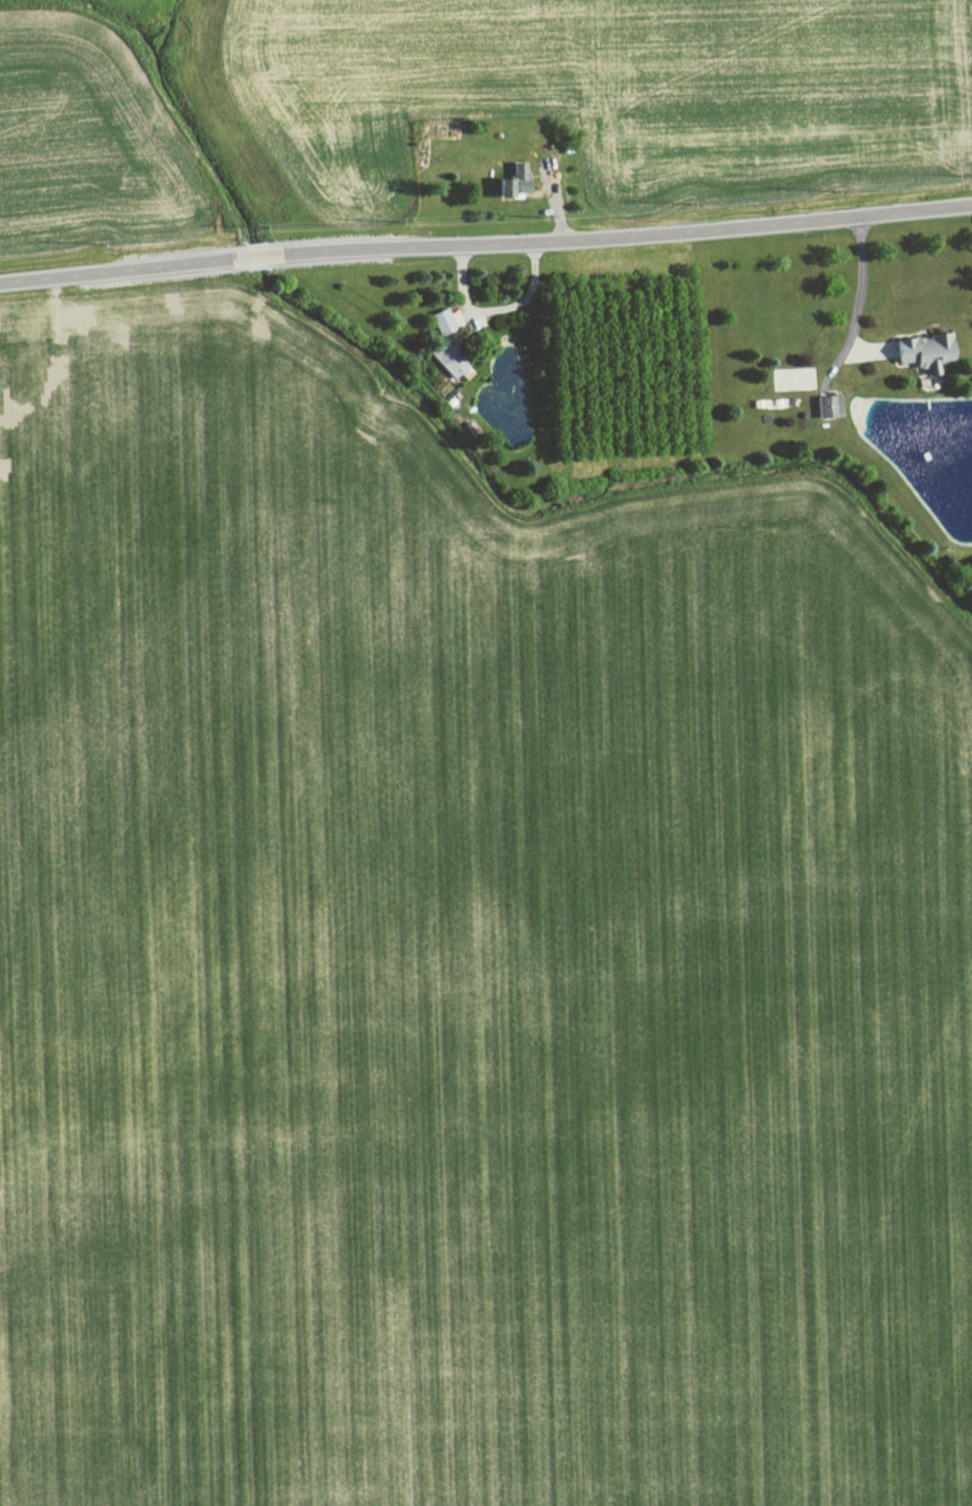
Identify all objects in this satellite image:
crop: (600, 82)
crop: (76, 132)
road: (618, 237)
road: (255, 257)
road: (123, 271)
road: (857, 298)
road: (495, 309)
crop: (458, 967)

